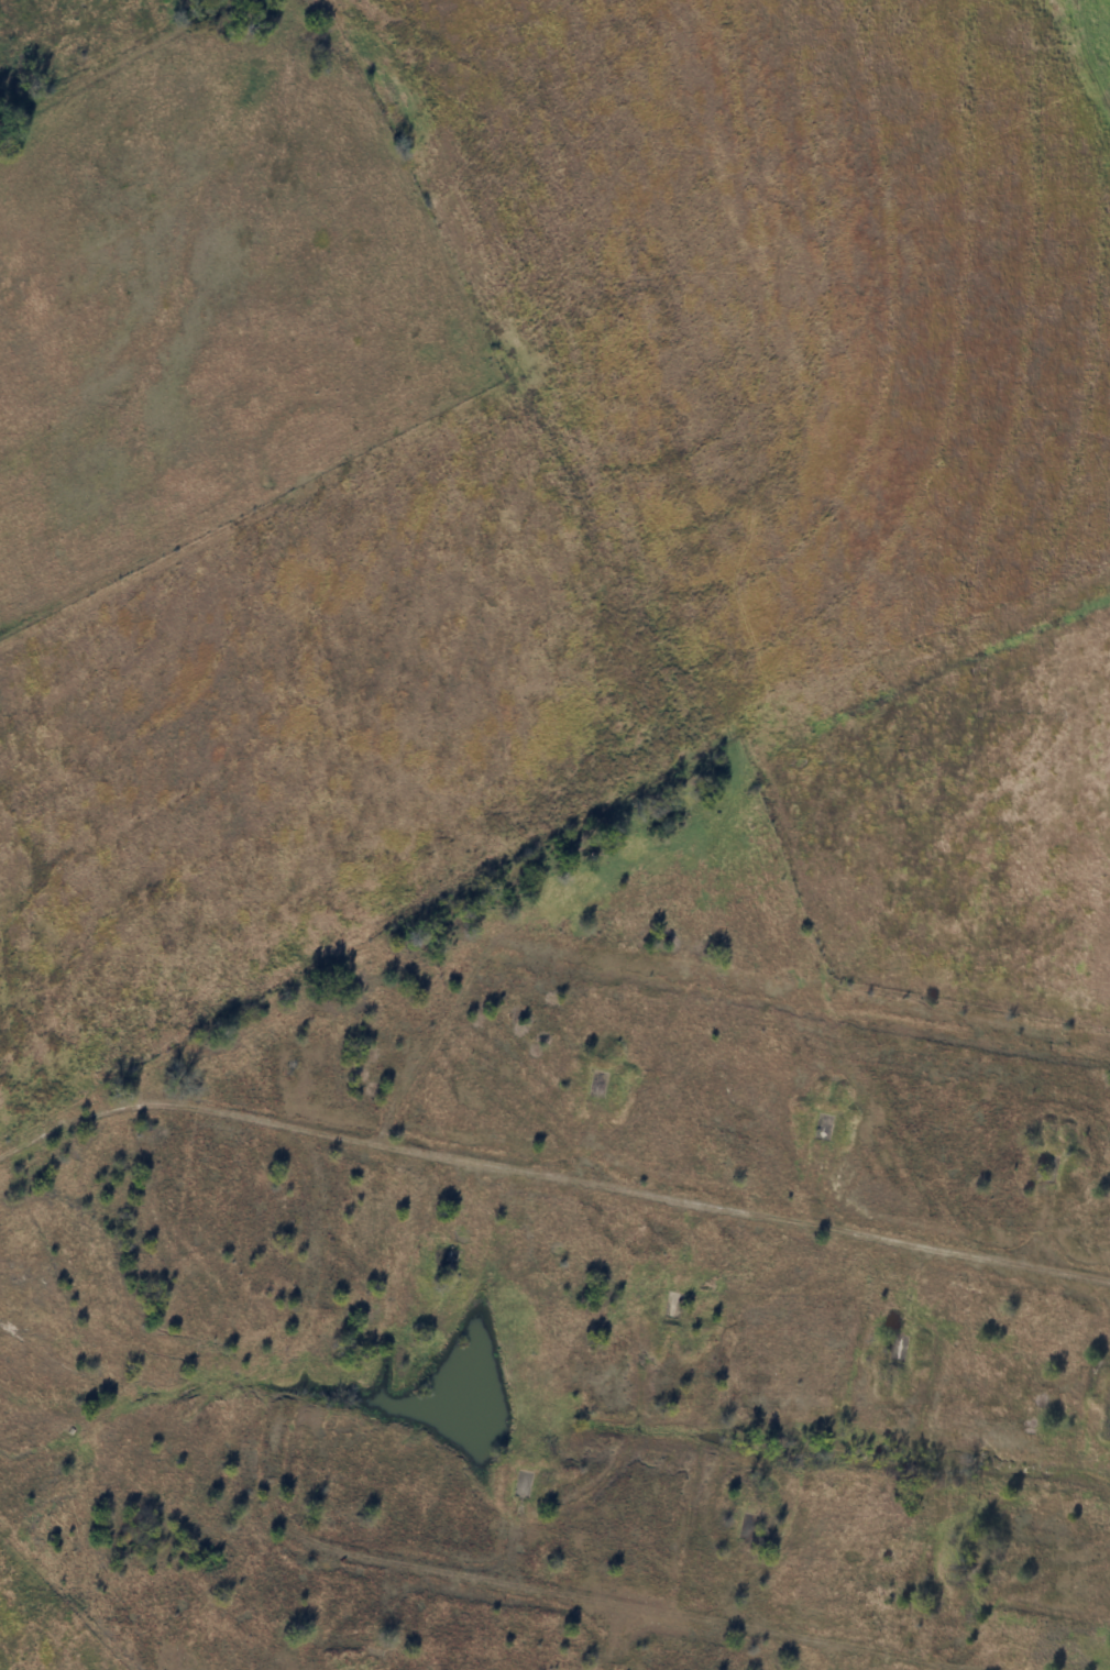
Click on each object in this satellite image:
building: (521, 1484)

